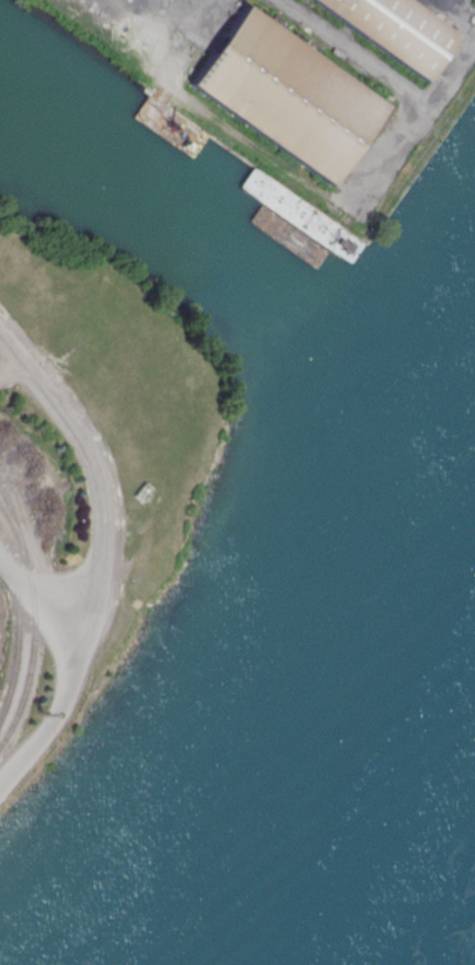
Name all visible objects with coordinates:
building: (395, 28)
building: (285, 94)
road: (104, 496)
railway: (17, 622)
railway: (33, 623)

